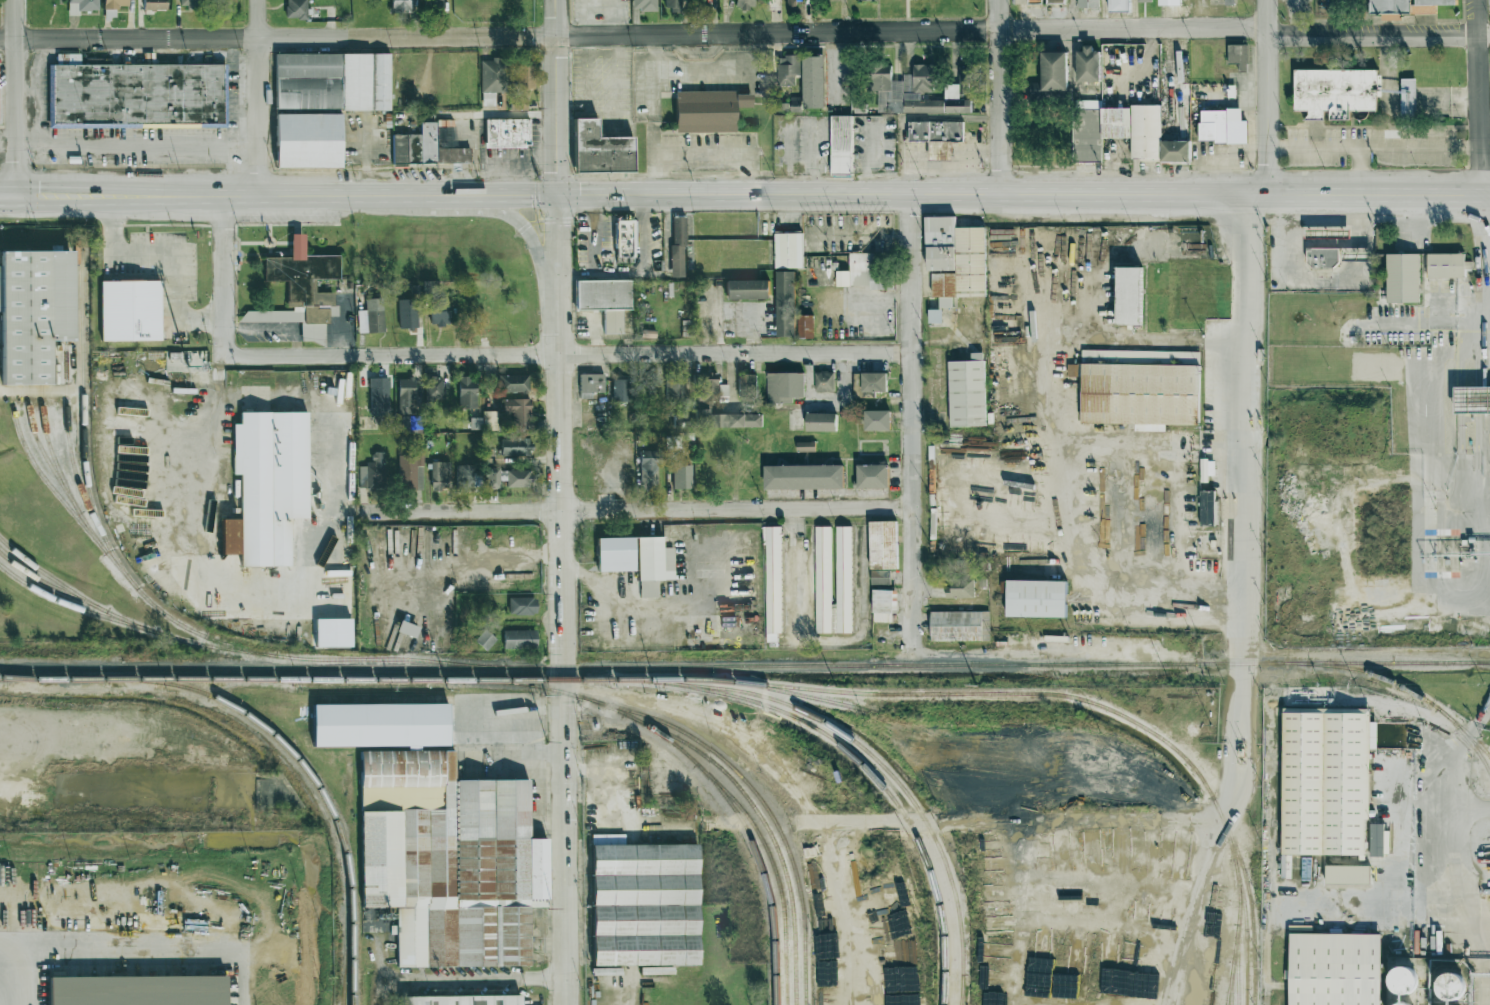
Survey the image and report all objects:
building: (776, 1)
building: (1034, 1)
building: (1056, 1)
building: (794, 2)
building: (1170, 2)
building: (1221, 2)
building: (190, 3)
building: (1088, 3)
building: (114, 4)
building: (155, 4)
building: (744, 4)
building: (402, 5)
building: (435, 5)
building: (644, 5)
building: (672, 5)
building: (1120, 5)
building: (1431, 5)
building: (82, 6)
building: (1391, 8)
building: (296, 9)
road: (1295, 19)
road: (744, 38)
building: (1238, 56)
building: (1088, 65)
building: (789, 69)
building: (1052, 73)
building: (525, 75)
building: (493, 80)
building: (813, 81)
building: (356, 82)
building: (380, 82)
building: (308, 83)
building: (962, 89)
building: (906, 91)
building: (1335, 92)
building: (136, 96)
road: (1476, 96)
road: (998, 97)
road: (1265, 97)
building: (1408, 97)
road: (555, 98)
road: (14, 99)
road: (256, 99)
building: (518, 104)
building: (707, 111)
road: (657, 117)
road: (911, 117)
building: (1137, 126)
building: (1222, 126)
building: (506, 133)
building: (308, 141)
building: (842, 144)
road: (7, 145)
road: (136, 145)
road: (1418, 146)
road: (1336, 147)
building: (426, 149)
building: (600, 152)
road: (721, 157)
road: (970, 158)
road: (939, 167)
road: (978, 195)
road: (291, 197)
traffic signals: (556, 197)
road: (7, 199)
traffic signals: (15, 199)
road: (66, 199)
road: (644, 231)
road: (529, 235)
building: (624, 237)
road: (1487, 237)
road: (1323, 243)
building: (677, 246)
road: (556, 250)
building: (789, 250)
road: (170, 254)
building: (1322, 257)
road: (593, 258)
building: (955, 259)
building: (1444, 265)
building: (869, 267)
road: (575, 273)
road: (221, 278)
building: (842, 278)
building: (1403, 278)
building: (299, 286)
building: (747, 289)
building: (1129, 295)
building: (605, 298)
railway: (65, 301)
building: (786, 303)
building: (130, 310)
building: (439, 311)
building: (34, 312)
building: (408, 313)
building: (935, 316)
building: (370, 320)
road: (1424, 320)
building: (805, 326)
railway: (67, 340)
road: (1054, 346)
railway: (11, 347)
railway: (26, 347)
railway: (41, 347)
road: (566, 357)
building: (824, 381)
building: (874, 382)
building: (514, 383)
building: (591, 384)
building: (747, 386)
building: (784, 387)
building: (433, 388)
building: (674, 388)
building: (1140, 388)
building: (620, 390)
building: (466, 392)
building: (967, 392)
building: (378, 396)
building: (405, 396)
building: (1472, 400)
building: (519, 413)
road: (910, 418)
building: (726, 419)
building: (490, 420)
building: (877, 420)
building: (821, 422)
building: (408, 424)
building: (673, 441)
building: (515, 446)
railway: (71, 451)
railway: (43, 452)
building: (649, 469)
building: (410, 470)
building: (372, 472)
railway: (60, 473)
building: (440, 475)
building: (682, 476)
building: (873, 476)
building: (804, 477)
building: (468, 478)
building: (491, 478)
building: (517, 478)
road: (1244, 482)
building: (274, 486)
railway: (58, 495)
railway: (91, 497)
road: (1005, 504)
building: (1208, 507)
road: (643, 511)
building: (230, 536)
building: (883, 545)
building: (615, 554)
building: (654, 565)
road: (468, 573)
building: (773, 579)
building: (823, 579)
building: (844, 579)
railway: (48, 583)
building: (960, 586)
road: (292, 591)
building: (1036, 598)
building: (884, 605)
building: (522, 606)
railway: (78, 607)
road: (656, 607)
railway: (123, 619)
building: (960, 626)
building: (485, 639)
building: (520, 639)
road: (828, 639)
road: (1366, 652)
road: (999, 653)
road: (559, 655)
railway: (385, 659)
railway: (745, 665)
railway: (19, 678)
railway: (74, 678)
railway: (361, 678)
railway: (19, 679)
railway: (523, 683)
railway: (1399, 685)
railway: (786, 692)
railway: (1037, 694)
railway: (957, 724)
road: (1474, 728)
railway: (1466, 738)
railway: (1462, 740)
railway: (871, 755)
road: (608, 775)
railway: (740, 776)
railway: (311, 777)
railway: (877, 780)
railway: (732, 781)
building: (1326, 781)
road: (1231, 795)
railway: (731, 806)
road: (1472, 808)
road: (1007, 820)
building: (439, 839)
building: (1377, 840)
railway: (762, 841)
building: (1284, 862)
road: (1454, 885)
building: (897, 892)
railway: (1249, 897)
road: (1365, 902)
building: (644, 903)
road: (1190, 911)
railway: (1236, 932)
road: (157, 949)
railway: (348, 955)
railway: (1236, 964)
road: (16, 969)
building: (1335, 969)
railway: (794, 972)
railway: (804, 972)
railway: (776, 973)
railway: (784, 973)
road: (476, 977)
building: (1401, 982)
railway: (1230, 983)
building: (1449, 987)
railway: (945, 989)
railway: (961, 989)
building: (138, 990)
building: (462, 1000)
building: (1403, 1003)

